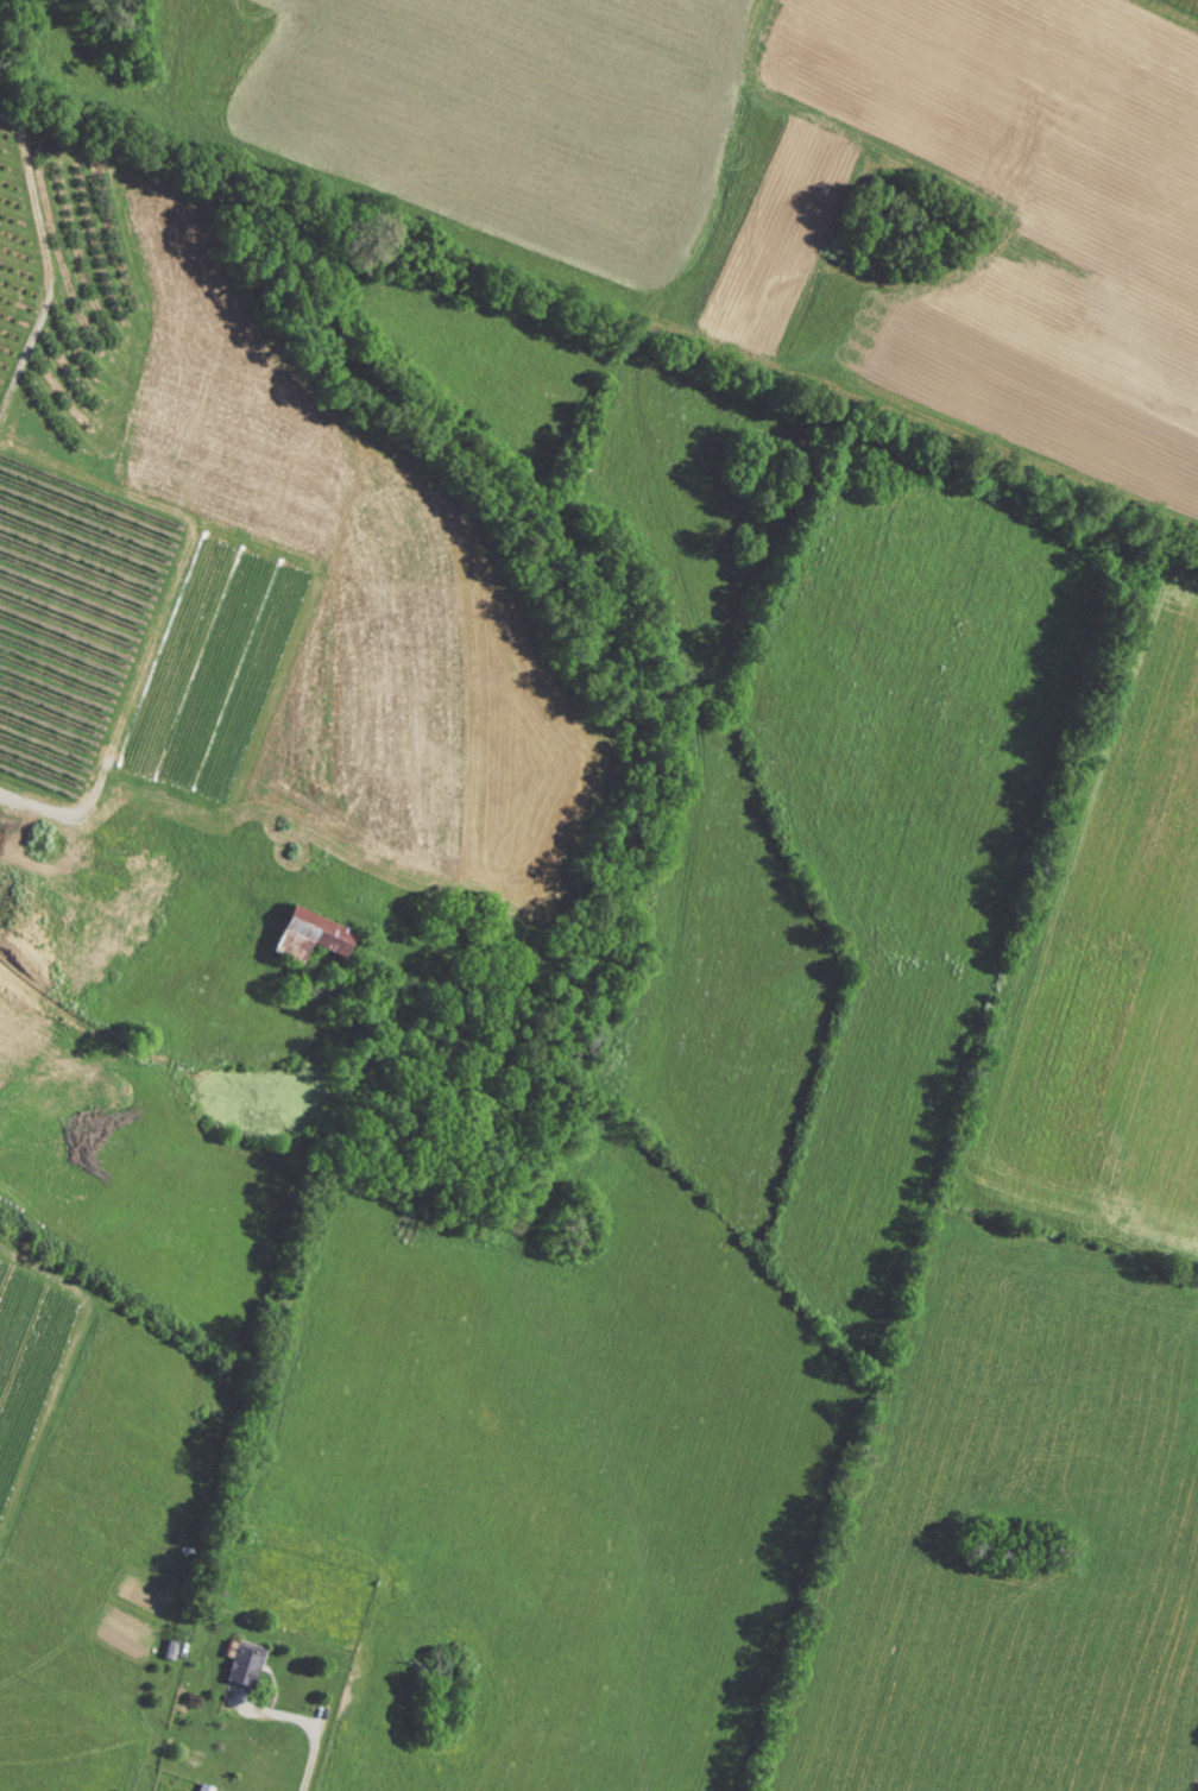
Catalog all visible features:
road: (49, 259)
park: (273, 832)
building: (307, 935)
building: (242, 1664)
road: (309, 1722)

